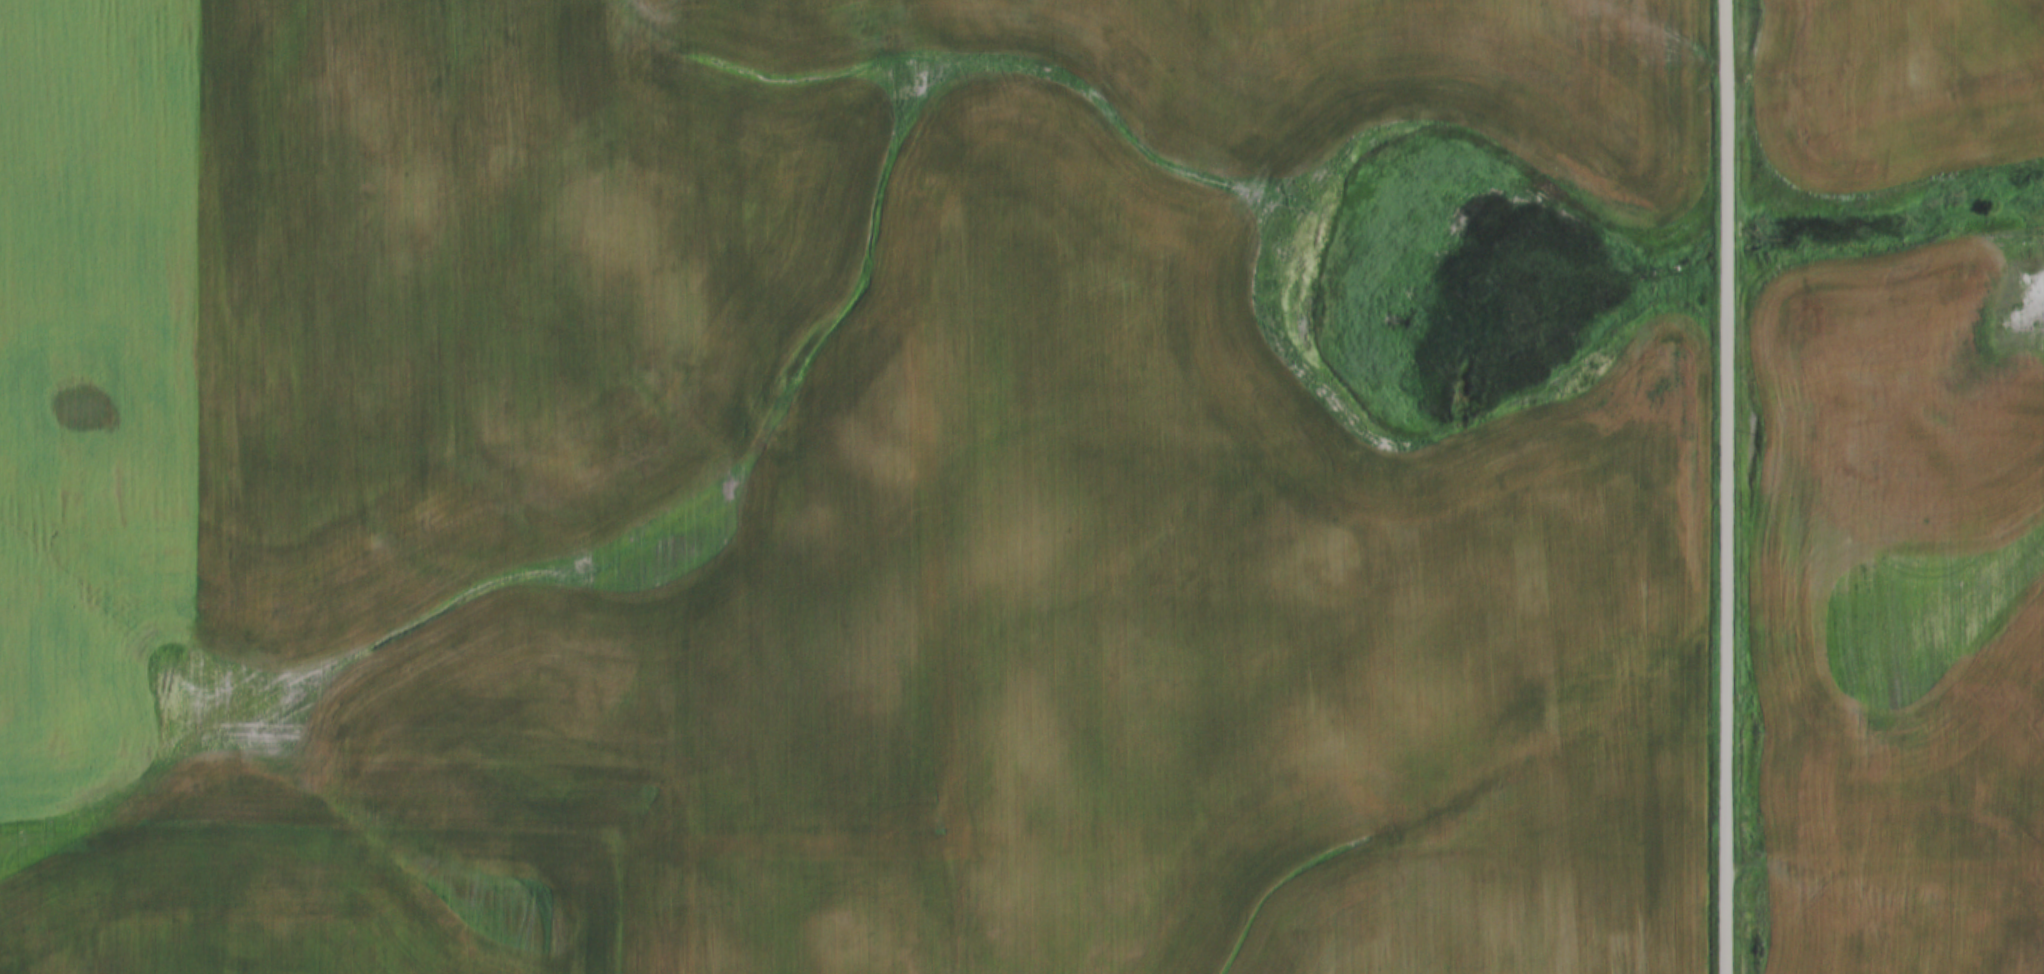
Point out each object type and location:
road: (1729, 486)
road: (1869, 866)

